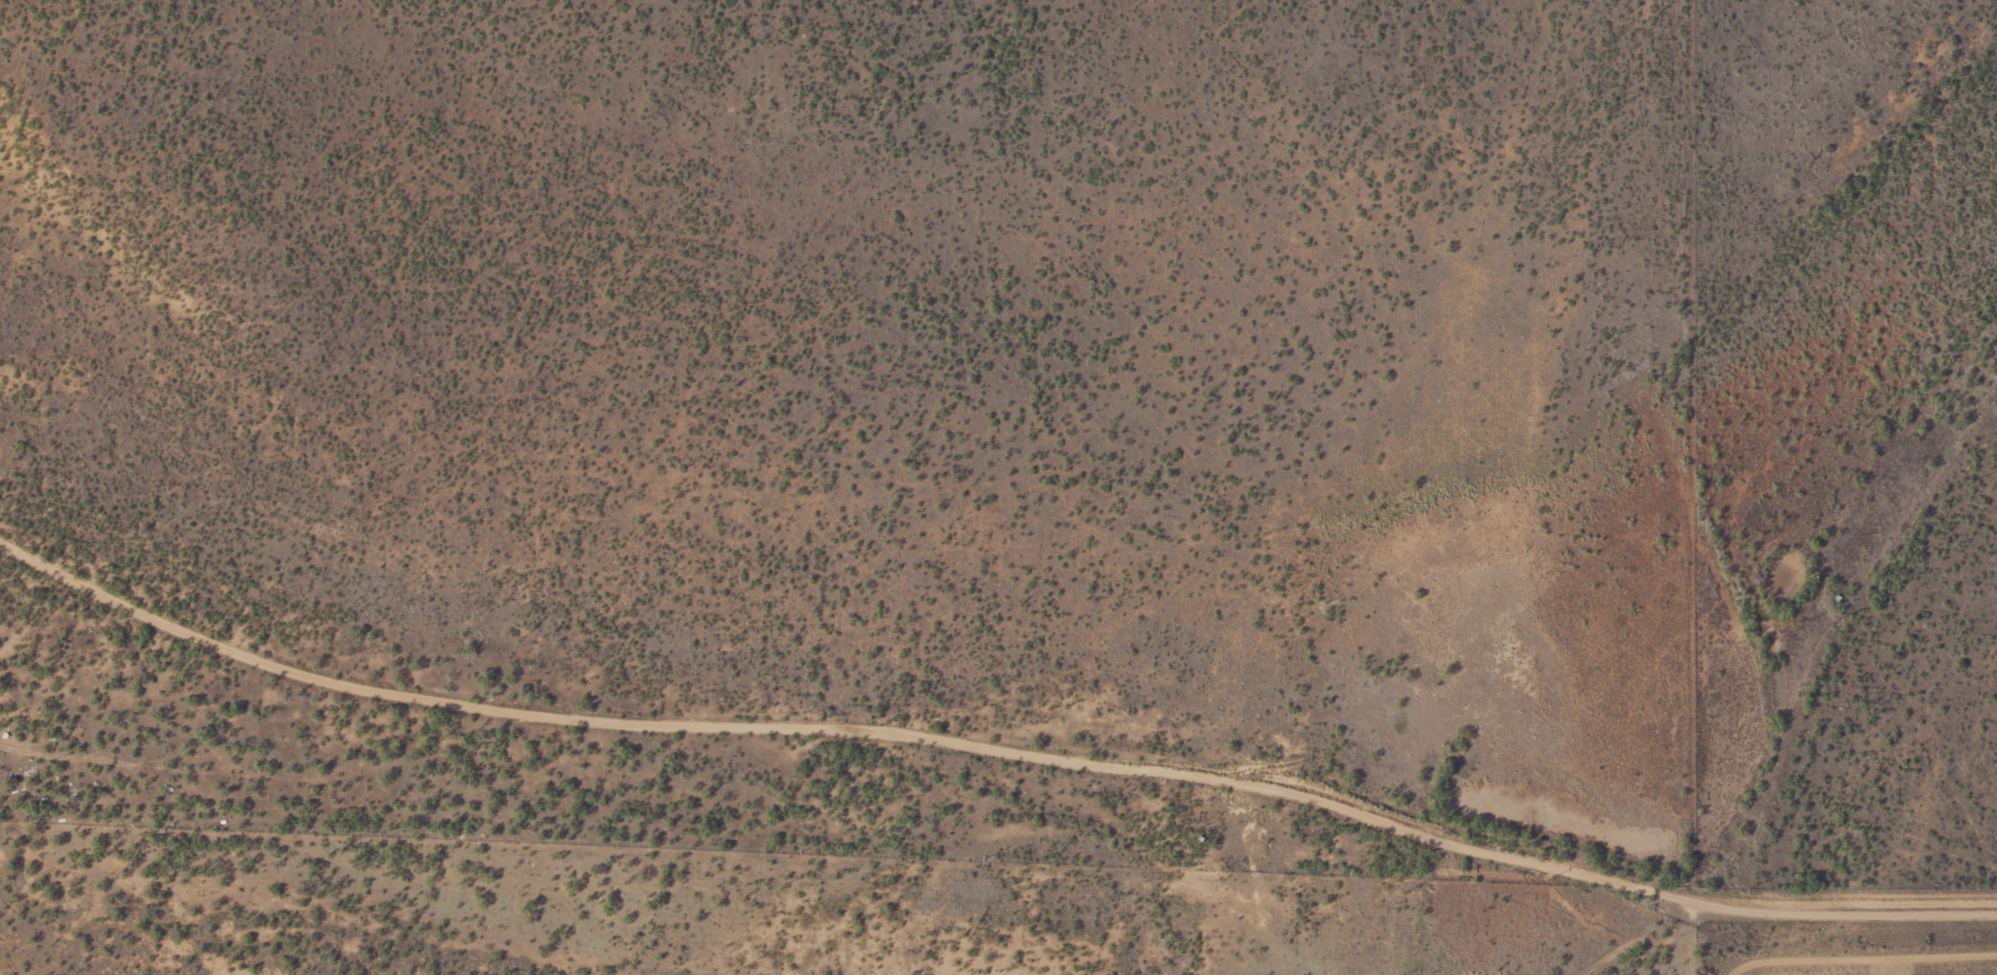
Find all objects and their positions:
road: (987, 751)

